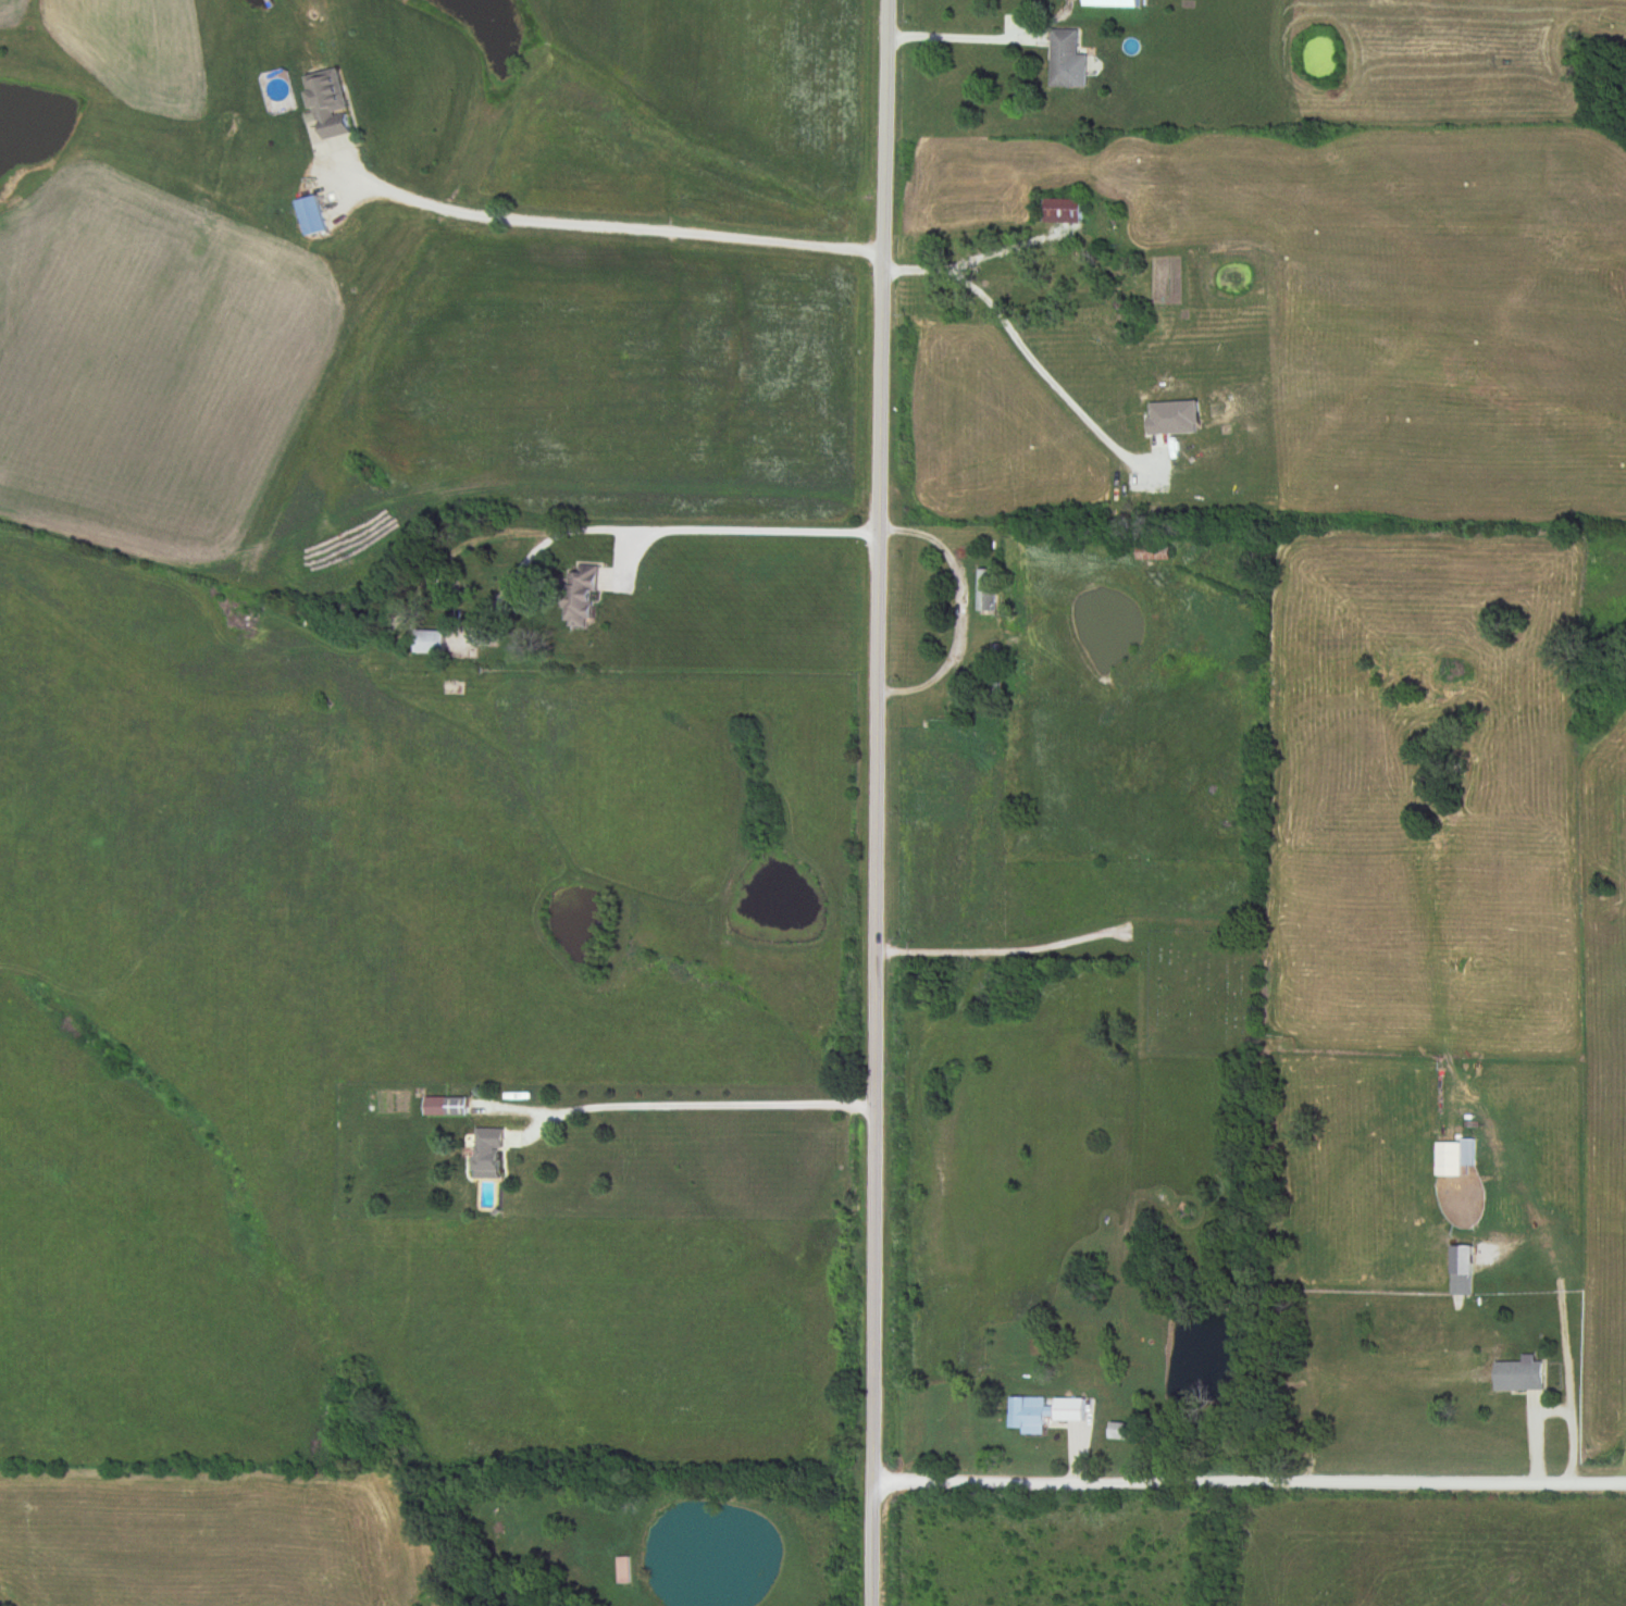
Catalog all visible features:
road: (966, 25)
building: (1069, 61)
building: (328, 109)
building: (1062, 212)
building: (310, 215)
road: (612, 226)
building: (1064, 256)
building: (1001, 287)
road: (1019, 340)
building: (1151, 555)
building: (984, 590)
building: (580, 599)
road: (957, 610)
road: (411, 625)
building: (431, 643)
road: (879, 802)
road: (1010, 955)
park: (1201, 993)
road: (697, 1106)
building: (444, 1108)
building: (485, 1151)
building: (1453, 1159)
building: (1460, 1285)
building: (1518, 1377)
building: (1043, 1414)
building: (1118, 1432)
road: (1251, 1481)
building: (623, 1570)

